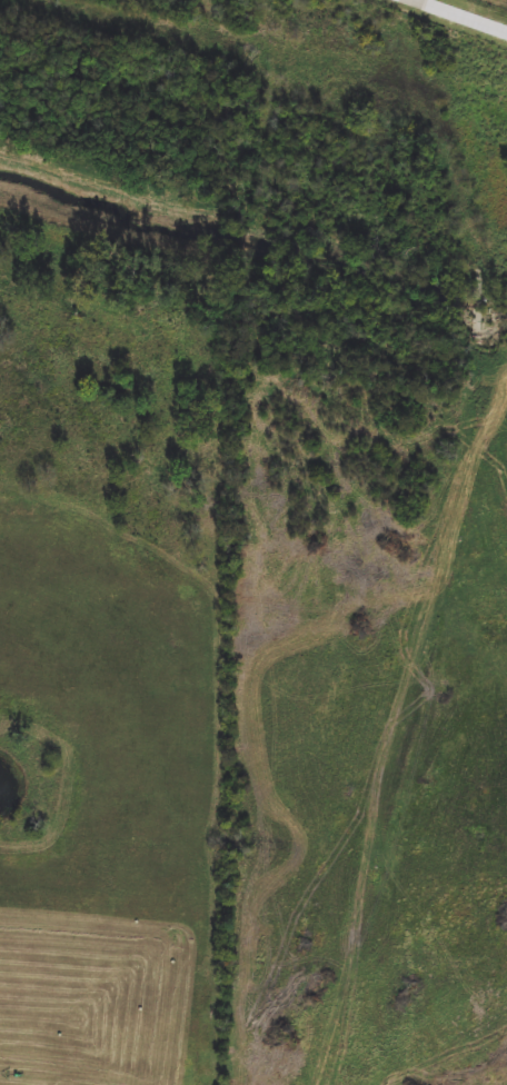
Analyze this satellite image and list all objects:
road: (471, 12)

